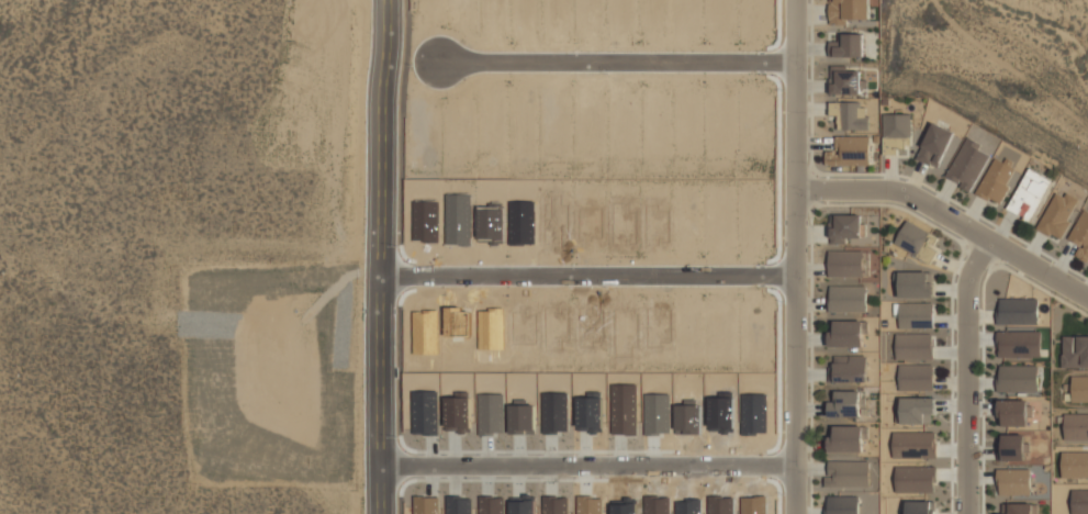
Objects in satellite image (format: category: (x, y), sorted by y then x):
building: (425, 8)
building: (457, 8)
building: (846, 11)
building: (554, 14)
building: (587, 14)
building: (684, 14)
building: (491, 15)
building: (653, 15)
building: (719, 15)
building: (752, 15)
building: (524, 16)
building: (620, 16)
building: (844, 46)
road: (624, 62)
building: (844, 78)
building: (489, 110)
building: (720, 112)
building: (552, 114)
building: (521, 115)
building: (850, 115)
building: (752, 116)
building: (587, 118)
building: (657, 118)
building: (687, 118)
building: (621, 119)
building: (896, 132)
building: (457, 133)
building: (419, 137)
building: (934, 145)
building: (848, 154)
building: (967, 165)
building: (996, 180)
building: (1030, 194)
building: (1057, 214)
building: (424, 219)
building: (553, 220)
road: (950, 220)
building: (457, 221)
building: (489, 221)
building: (587, 222)
building: (717, 222)
building: (750, 222)
building: (520, 223)
building: (654, 223)
building: (622, 224)
building: (685, 226)
building: (845, 228)
building: (1080, 236)
building: (911, 237)
road: (393, 257)
road: (799, 257)
building: (845, 264)
road: (596, 277)
building: (916, 284)
building: (846, 299)
building: (1018, 311)
building: (915, 315)
building: (455, 322)
building: (718, 323)
building: (519, 324)
building: (586, 327)
building: (655, 327)
building: (490, 328)
building: (552, 328)
building: (685, 331)
building: (424, 332)
building: (621, 333)
building: (751, 333)
building: (848, 334)
building: (1019, 344)
building: (912, 347)
building: (1074, 351)
building: (850, 369)
road: (969, 376)
building: (916, 378)
building: (1018, 378)
building: (1079, 389)
building: (845, 404)
building: (456, 410)
building: (621, 410)
building: (586, 411)
building: (718, 411)
building: (916, 411)
building: (423, 412)
building: (1012, 412)
building: (552, 413)
building: (489, 414)
building: (655, 415)
building: (751, 415)
building: (520, 418)
building: (685, 418)
building: (1076, 426)
building: (848, 438)
building: (913, 445)
building: (1012, 447)
road: (596, 465)
building: (1074, 465)
building: (848, 473)
building: (915, 479)
building: (1013, 481)
building: (1079, 502)
building: (489, 504)
building: (842, 504)
building: (423, 505)
building: (456, 505)
building: (552, 505)
building: (587, 506)
building: (654, 506)
building: (718, 506)
building: (751, 506)
building: (520, 507)
building: (621, 507)
building: (686, 507)
building: (920, 507)
building: (1020, 509)

